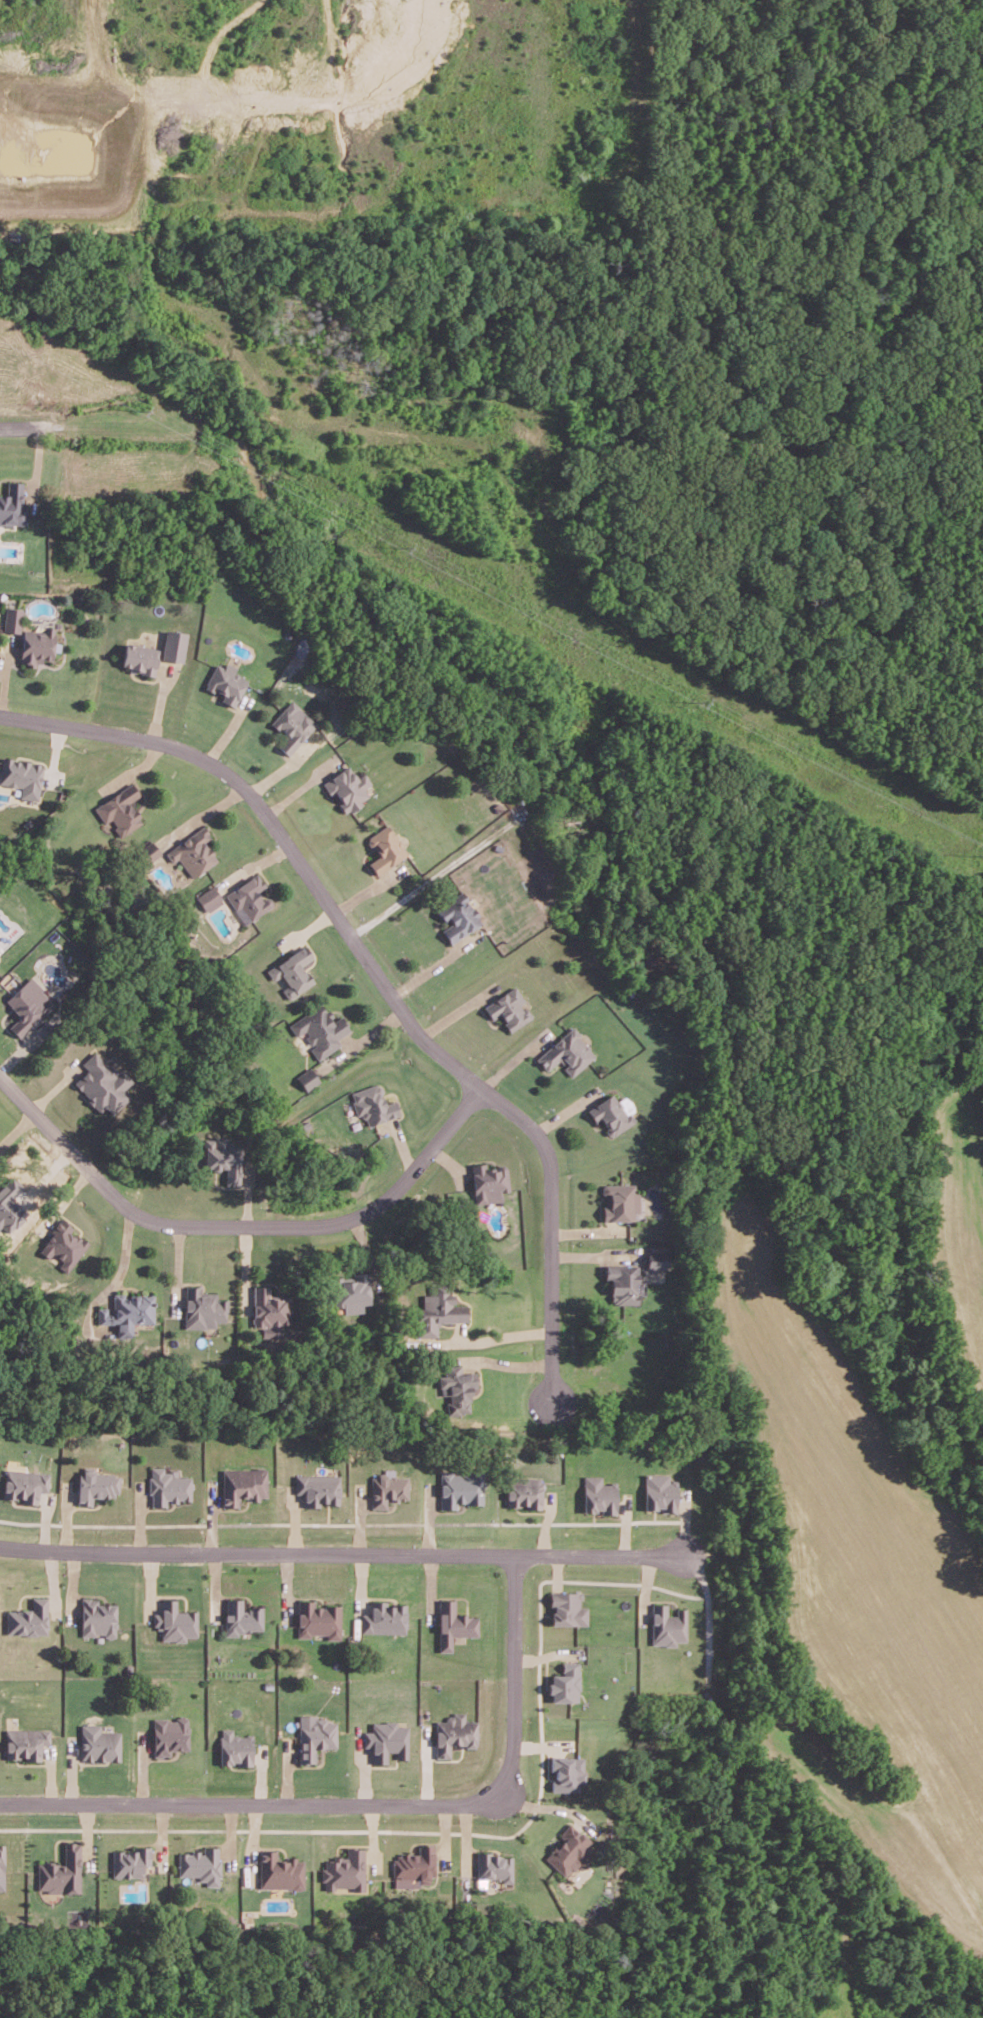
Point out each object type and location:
power tower: (144, 410)
road: (23, 420)
building: (12, 499)
power tower: (409, 548)
building: (12, 618)
building: (173, 645)
building: (39, 646)
building: (140, 659)
building: (227, 683)
power tower: (706, 701)
building: (293, 728)
building: (21, 775)
building: (349, 789)
building: (122, 809)
building: (387, 848)
building: (149, 851)
building: (195, 852)
building: (209, 898)
building: (251, 898)
building: (459, 917)
building: (295, 971)
road: (382, 976)
building: (28, 1008)
building: (510, 1009)
building: (322, 1031)
building: (567, 1052)
building: (308, 1078)
building: (102, 1083)
building: (372, 1103)
building: (611, 1114)
building: (223, 1157)
building: (491, 1182)
building: (621, 1202)
building: (10, 1204)
road: (238, 1219)
building: (63, 1244)
building: (657, 1261)
building: (623, 1285)
building: (354, 1292)
building: (205, 1308)
building: (438, 1310)
building: (271, 1311)
building: (128, 1312)
road: (498, 1336)
building: (459, 1387)
building: (24, 1484)
building: (242, 1484)
building: (95, 1485)
building: (168, 1487)
building: (317, 1488)
building: (387, 1488)
building: (460, 1488)
building: (523, 1491)
building: (659, 1492)
building: (598, 1495)
road: (342, 1546)
building: (567, 1608)
road: (707, 1612)
building: (97, 1617)
building: (242, 1617)
building: (384, 1617)
building: (28, 1618)
building: (318, 1619)
building: (175, 1621)
building: (452, 1624)
building: (667, 1625)
road: (512, 1659)
building: (565, 1682)
building: (453, 1733)
building: (169, 1734)
building: (314, 1736)
building: (385, 1740)
building: (26, 1742)
building: (98, 1743)
building: (235, 1747)
building: (566, 1773)
road: (259, 1797)
building: (569, 1850)
building: (130, 1861)
building: (200, 1864)
building: (413, 1864)
building: (1, 1865)
building: (494, 1866)
building: (280, 1870)
building: (345, 1870)
building: (61, 1871)

